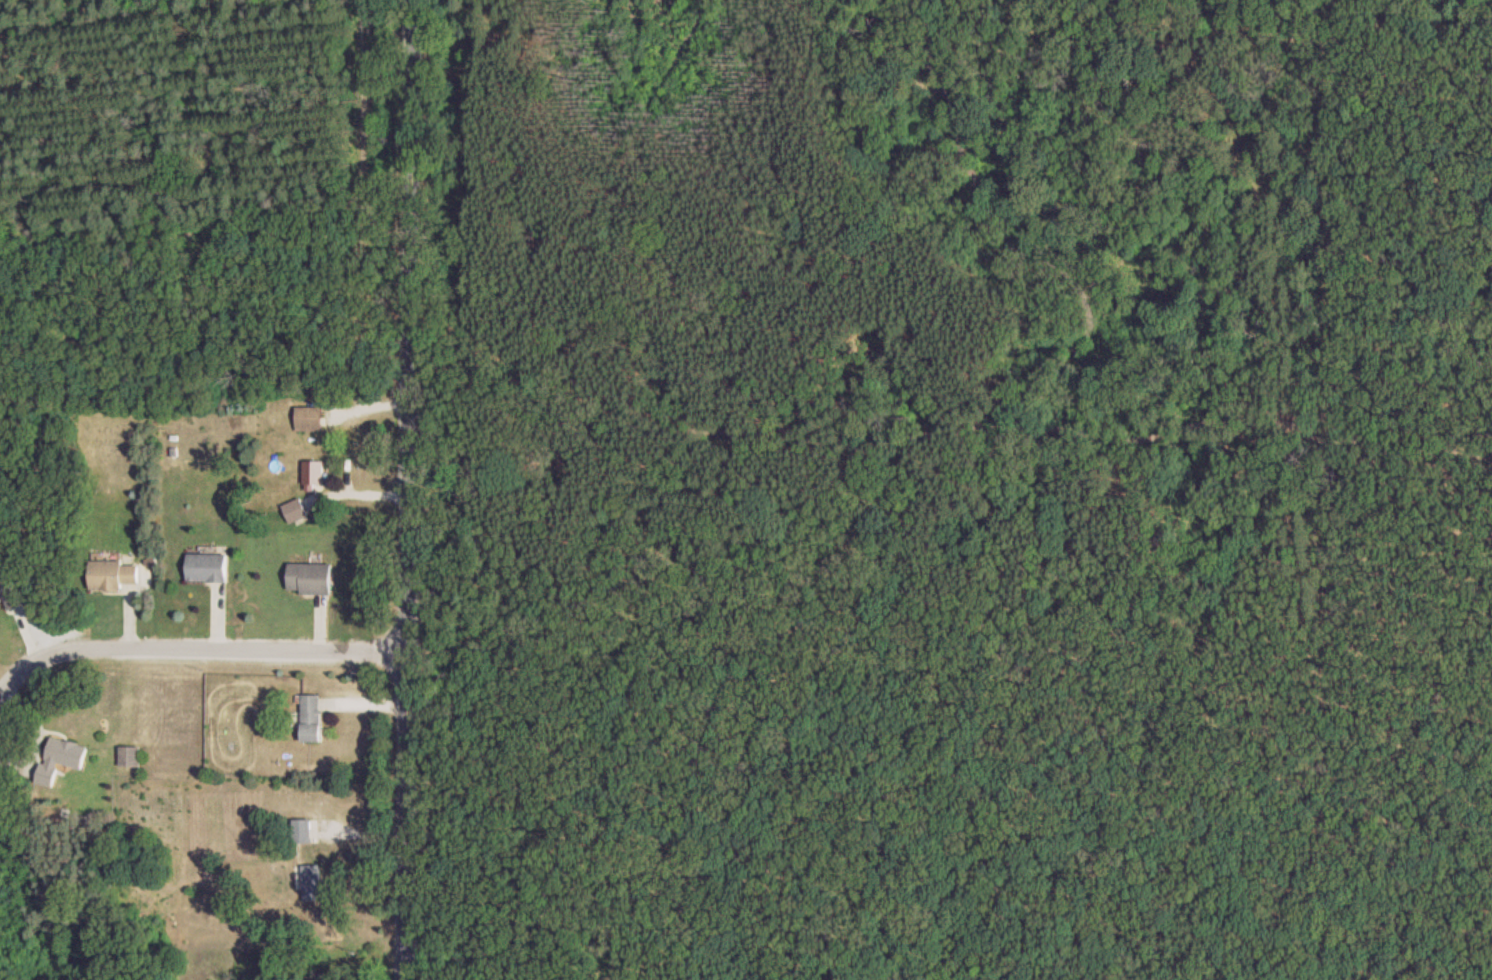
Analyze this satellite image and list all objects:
building: (307, 419)
building: (313, 474)
road: (407, 489)
building: (206, 568)
building: (111, 576)
building: (308, 579)
building: (10, 593)
road: (195, 646)
building: (310, 719)
building: (128, 757)
building: (58, 759)
building: (301, 832)
building: (311, 883)

